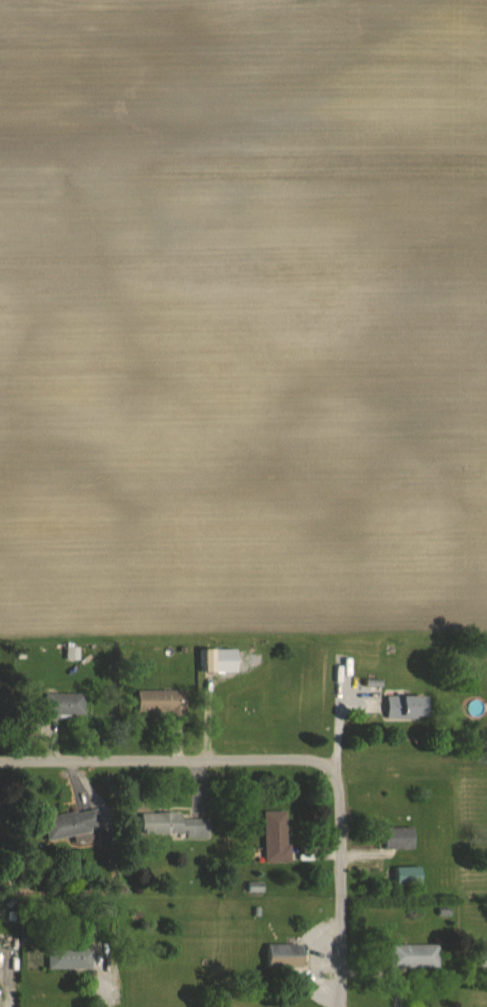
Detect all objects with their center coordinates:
building: (219, 661)
building: (162, 703)
building: (65, 705)
building: (407, 706)
road: (168, 755)
building: (77, 823)
building: (175, 825)
building: (277, 836)
building: (398, 837)
road: (335, 887)
building: (484, 954)
building: (285, 955)
building: (415, 956)
building: (70, 959)

